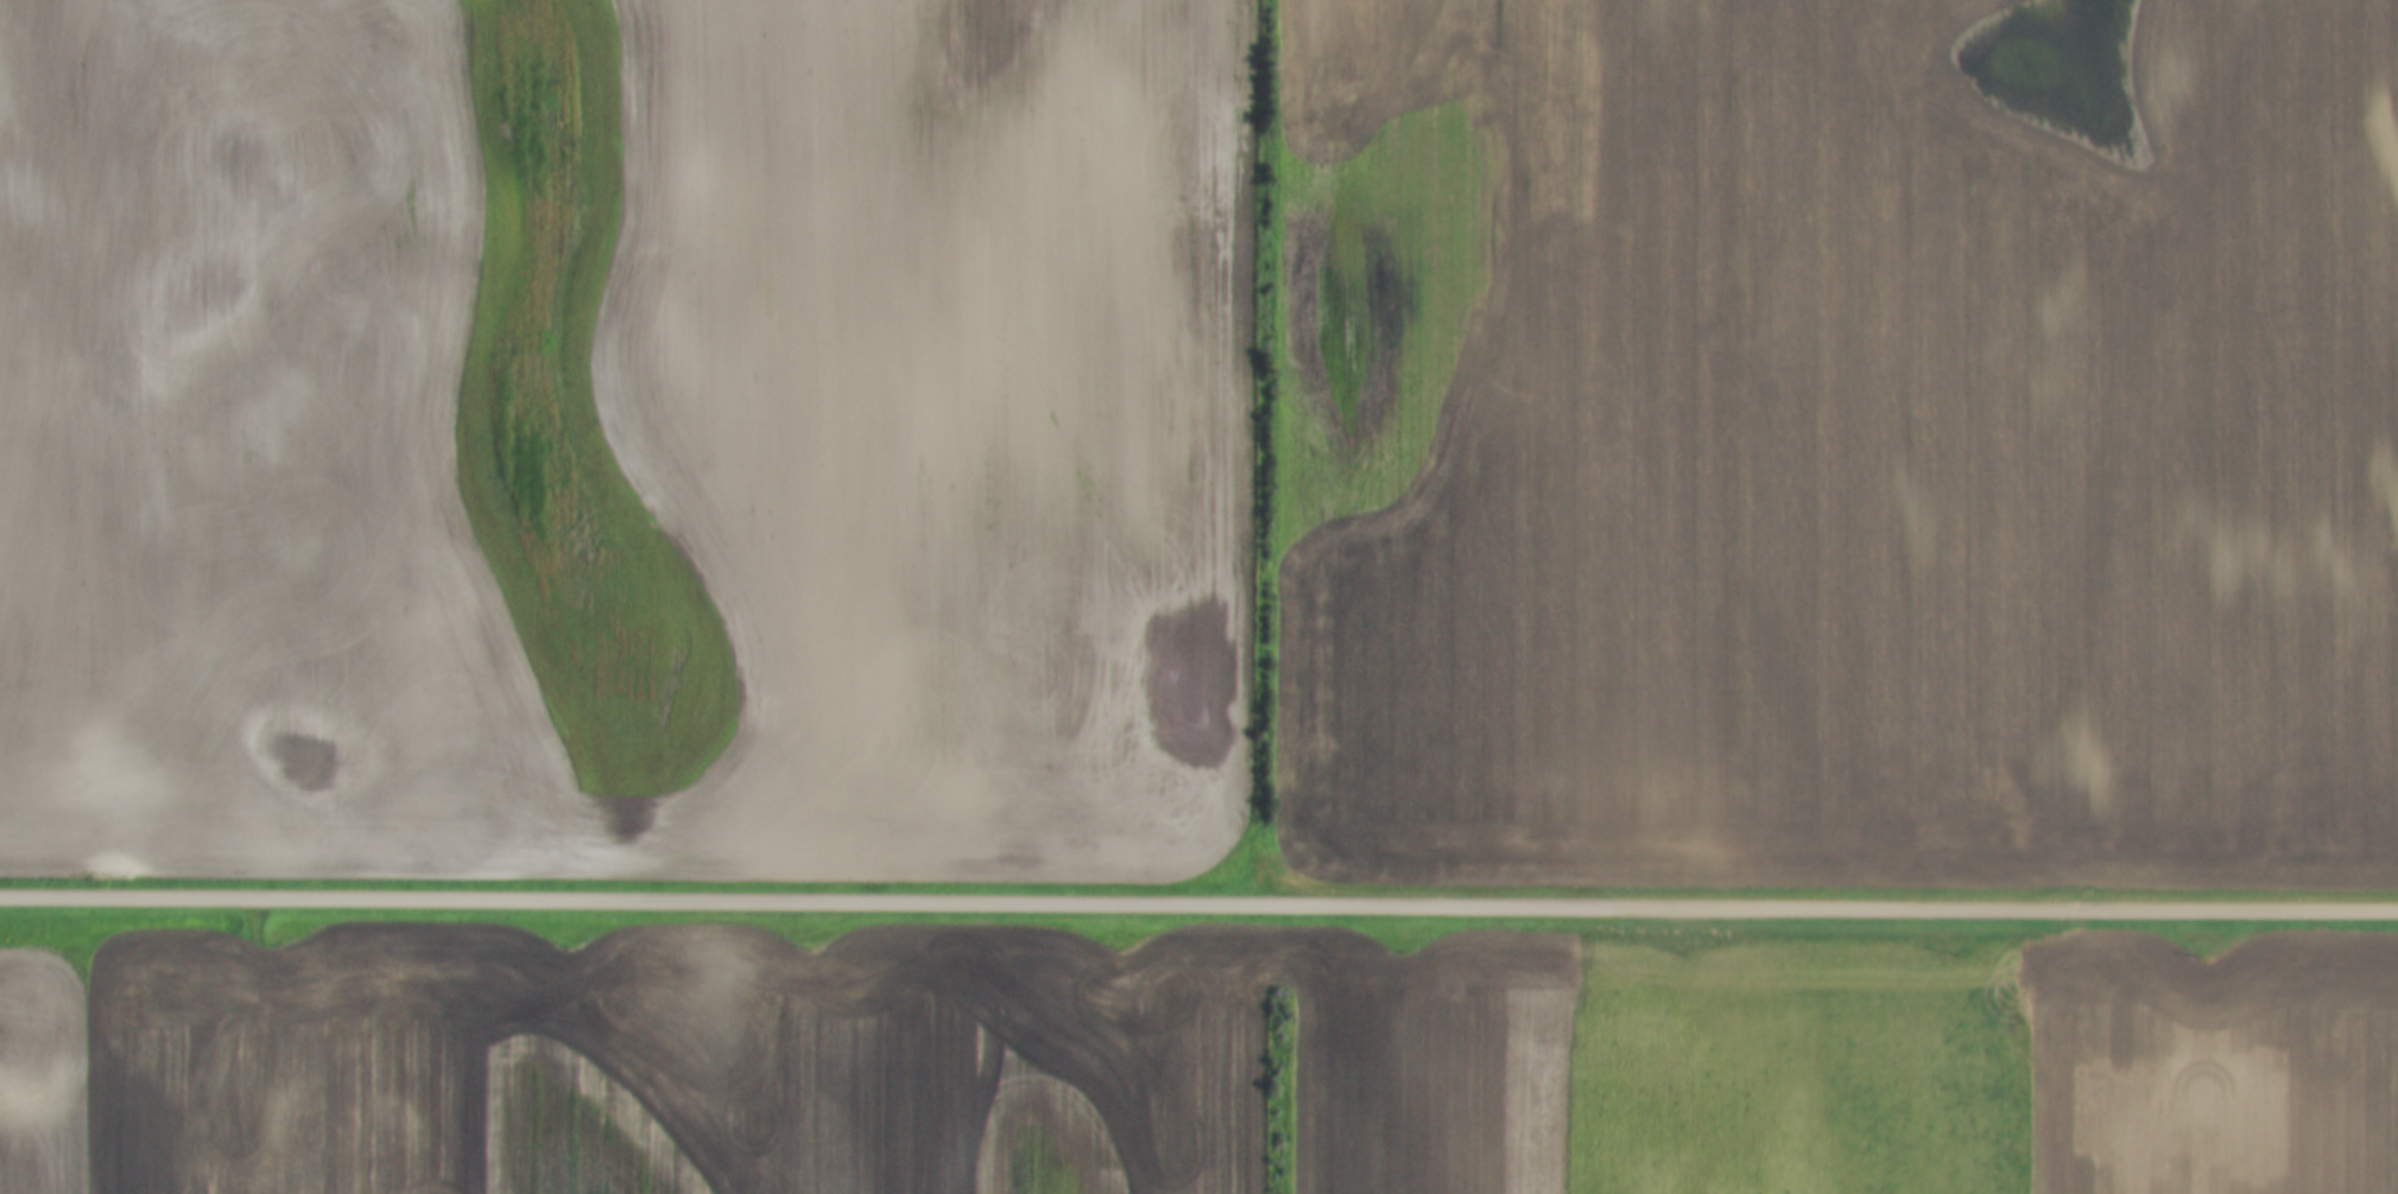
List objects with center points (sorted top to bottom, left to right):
road: (1198, 910)
road: (113, 1042)

